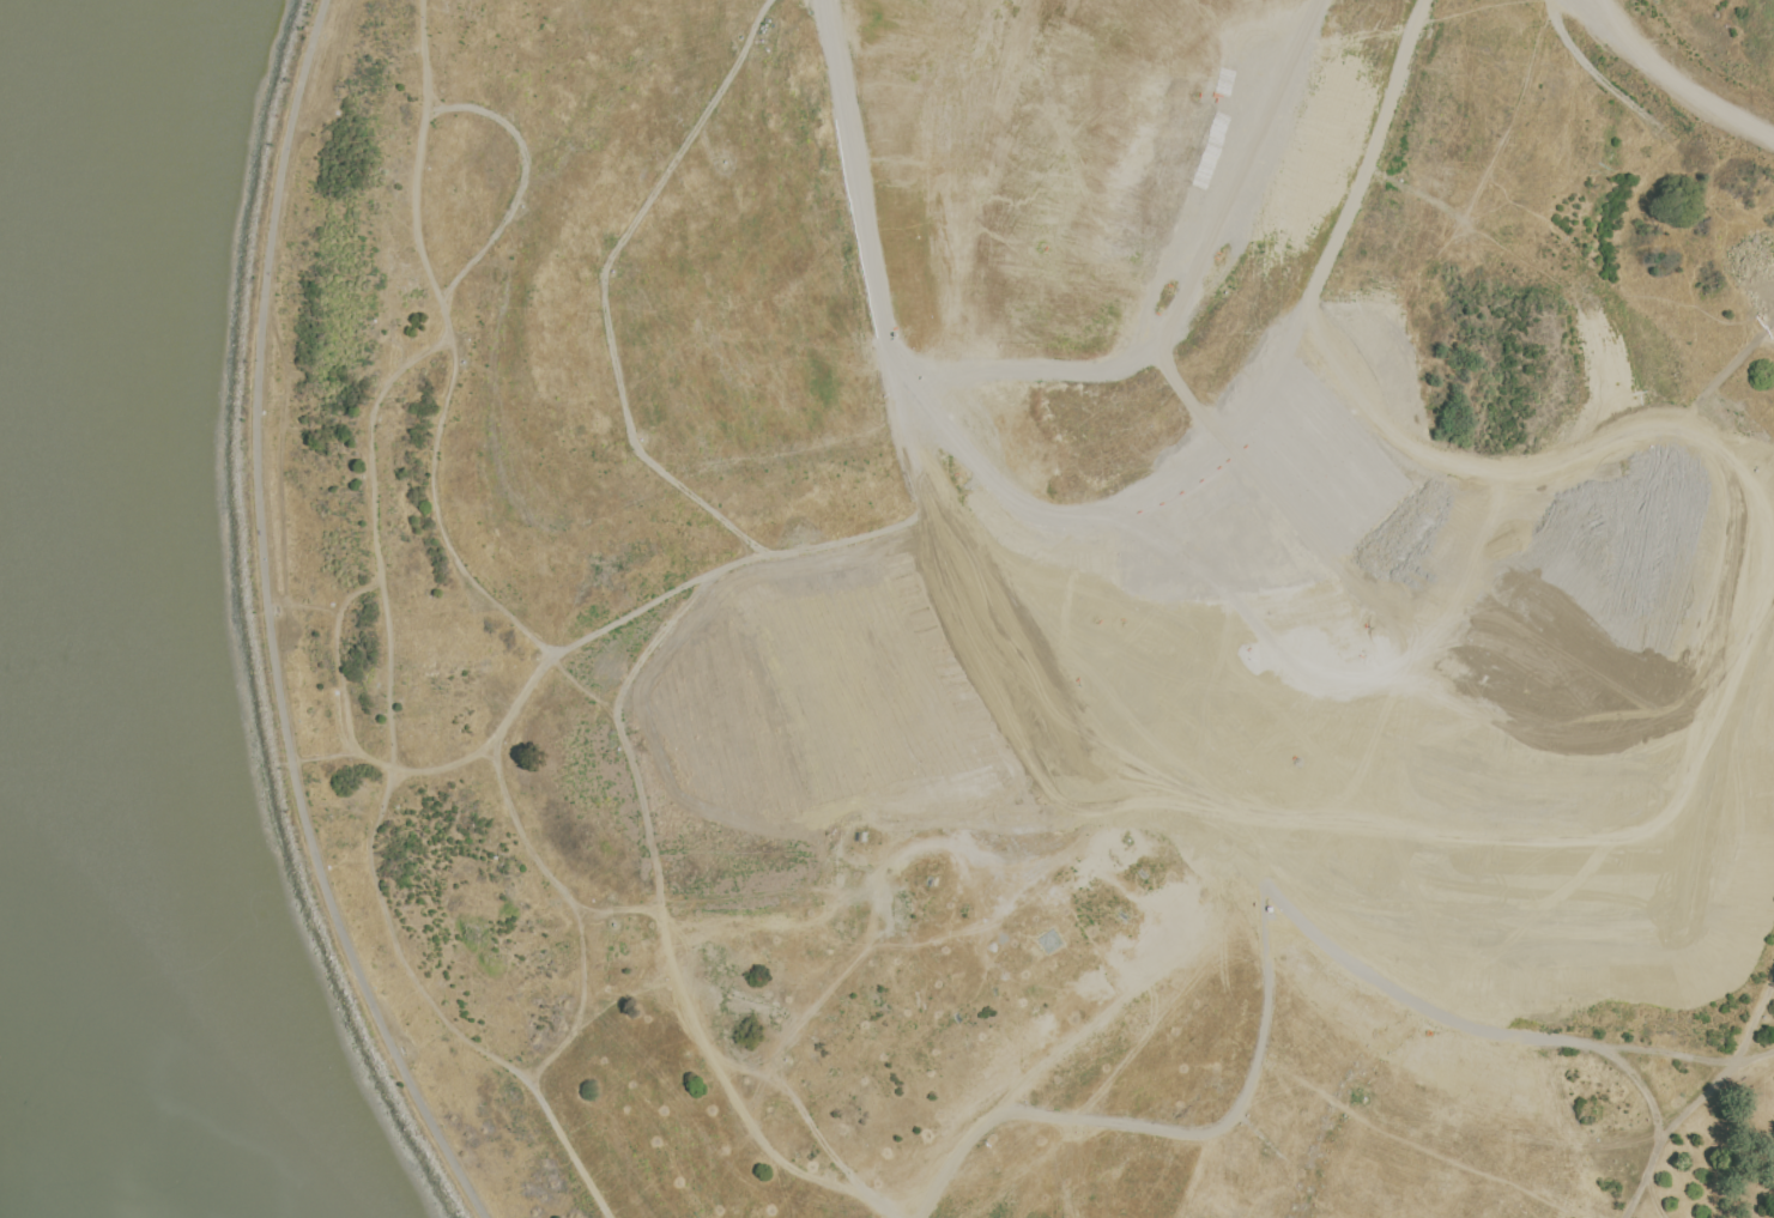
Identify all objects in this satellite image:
road: (1681, 75)
road: (522, 178)
road: (601, 287)
road: (446, 396)
road: (924, 496)
road: (1510, 602)
road: (271, 626)
road: (1436, 641)
road: (335, 653)
road: (526, 687)
road: (617, 721)
road: (398, 768)
road: (383, 800)
road: (904, 850)
road: (1470, 1026)
road: (1755, 1049)
road: (722, 1078)
road: (1697, 1096)
road: (1170, 1129)
road: (828, 1151)
road: (1521, 1170)

